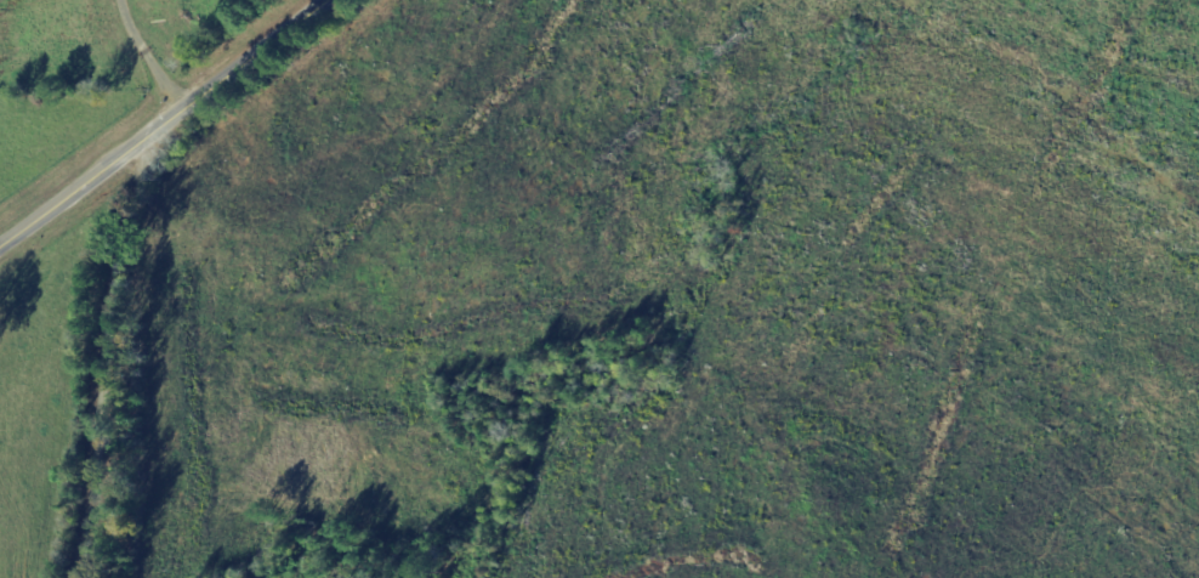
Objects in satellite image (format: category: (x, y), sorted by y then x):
road: (164, 123)

